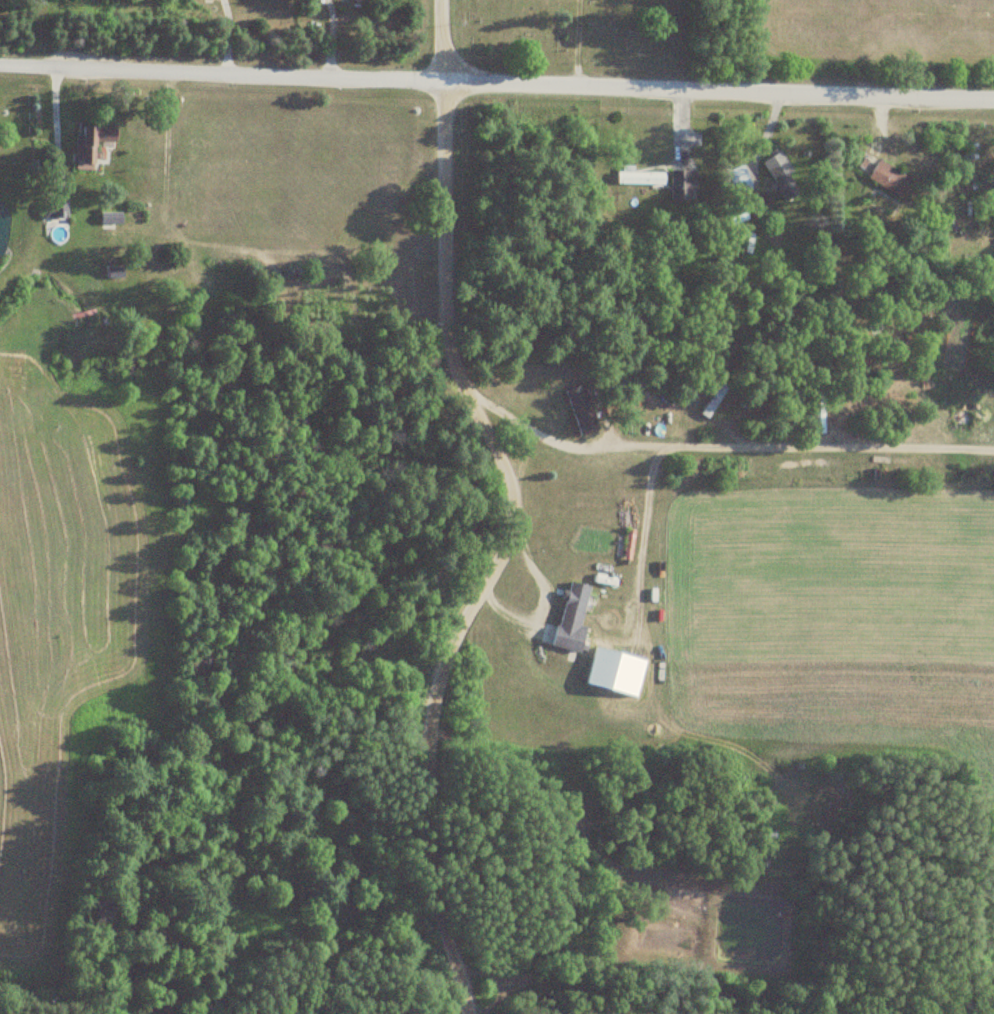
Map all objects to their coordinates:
park: (581, 36)
road: (497, 82)
building: (84, 146)
building: (780, 175)
building: (638, 176)
building: (739, 178)
building: (888, 178)
building: (682, 185)
building: (53, 210)
building: (110, 218)
building: (113, 272)
building: (718, 403)
building: (796, 408)
building: (817, 409)
building: (581, 410)
road: (515, 513)
building: (571, 616)

